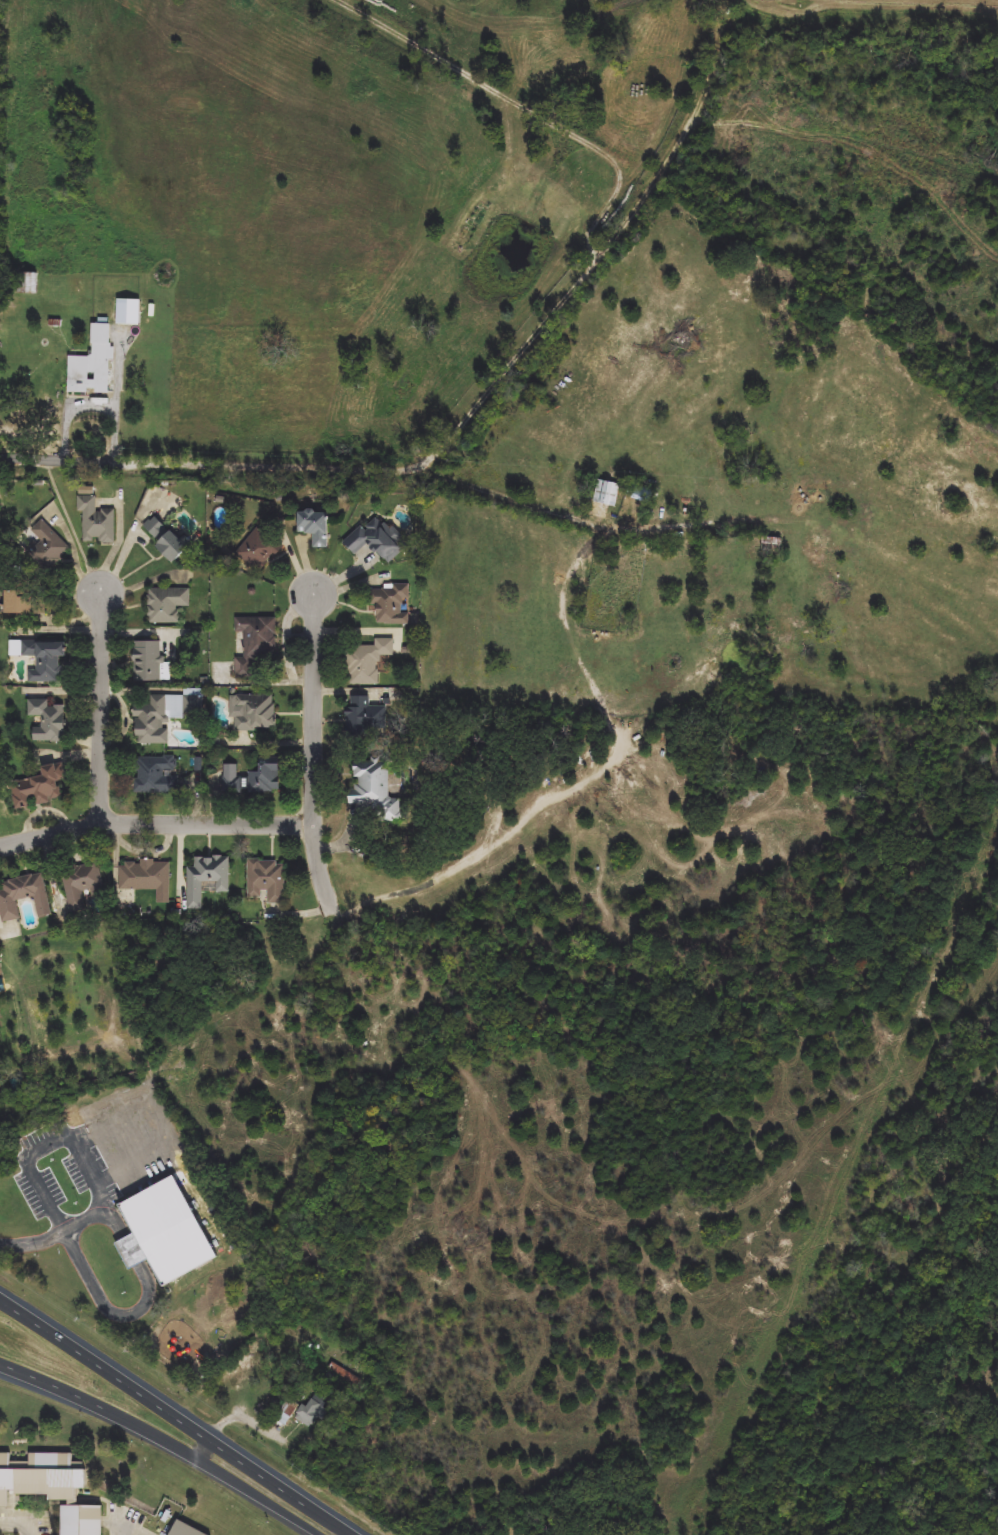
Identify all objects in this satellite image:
park: (1, 222)
building: (93, 364)
road: (509, 369)
road: (57, 461)
building: (608, 493)
building: (97, 521)
building: (314, 527)
building: (167, 540)
building: (377, 540)
building: (47, 546)
building: (259, 550)
building: (19, 603)
building: (392, 604)
building: (167, 605)
building: (256, 644)
building: (42, 659)
building: (368, 660)
building: (148, 662)
road: (105, 709)
building: (256, 713)
building: (365, 717)
building: (151, 720)
building: (48, 721)
road: (316, 755)
building: (157, 775)
building: (265, 777)
building: (232, 779)
building: (40, 787)
building: (376, 790)
road: (158, 822)
road: (483, 849)
building: (147, 878)
building: (208, 879)
building: (266, 881)
building: (81, 884)
building: (24, 896)
road: (45, 1145)
building: (162, 1232)
road: (60, 1237)
road: (140, 1312)
road: (52, 1383)
building: (315, 1410)
road: (175, 1412)
building: (287, 1412)
road: (217, 1467)
building: (41, 1476)
building: (81, 1520)
road: (18, 1525)
building: (185, 1530)
parking lot: (26, 1531)
road: (128, 1532)

